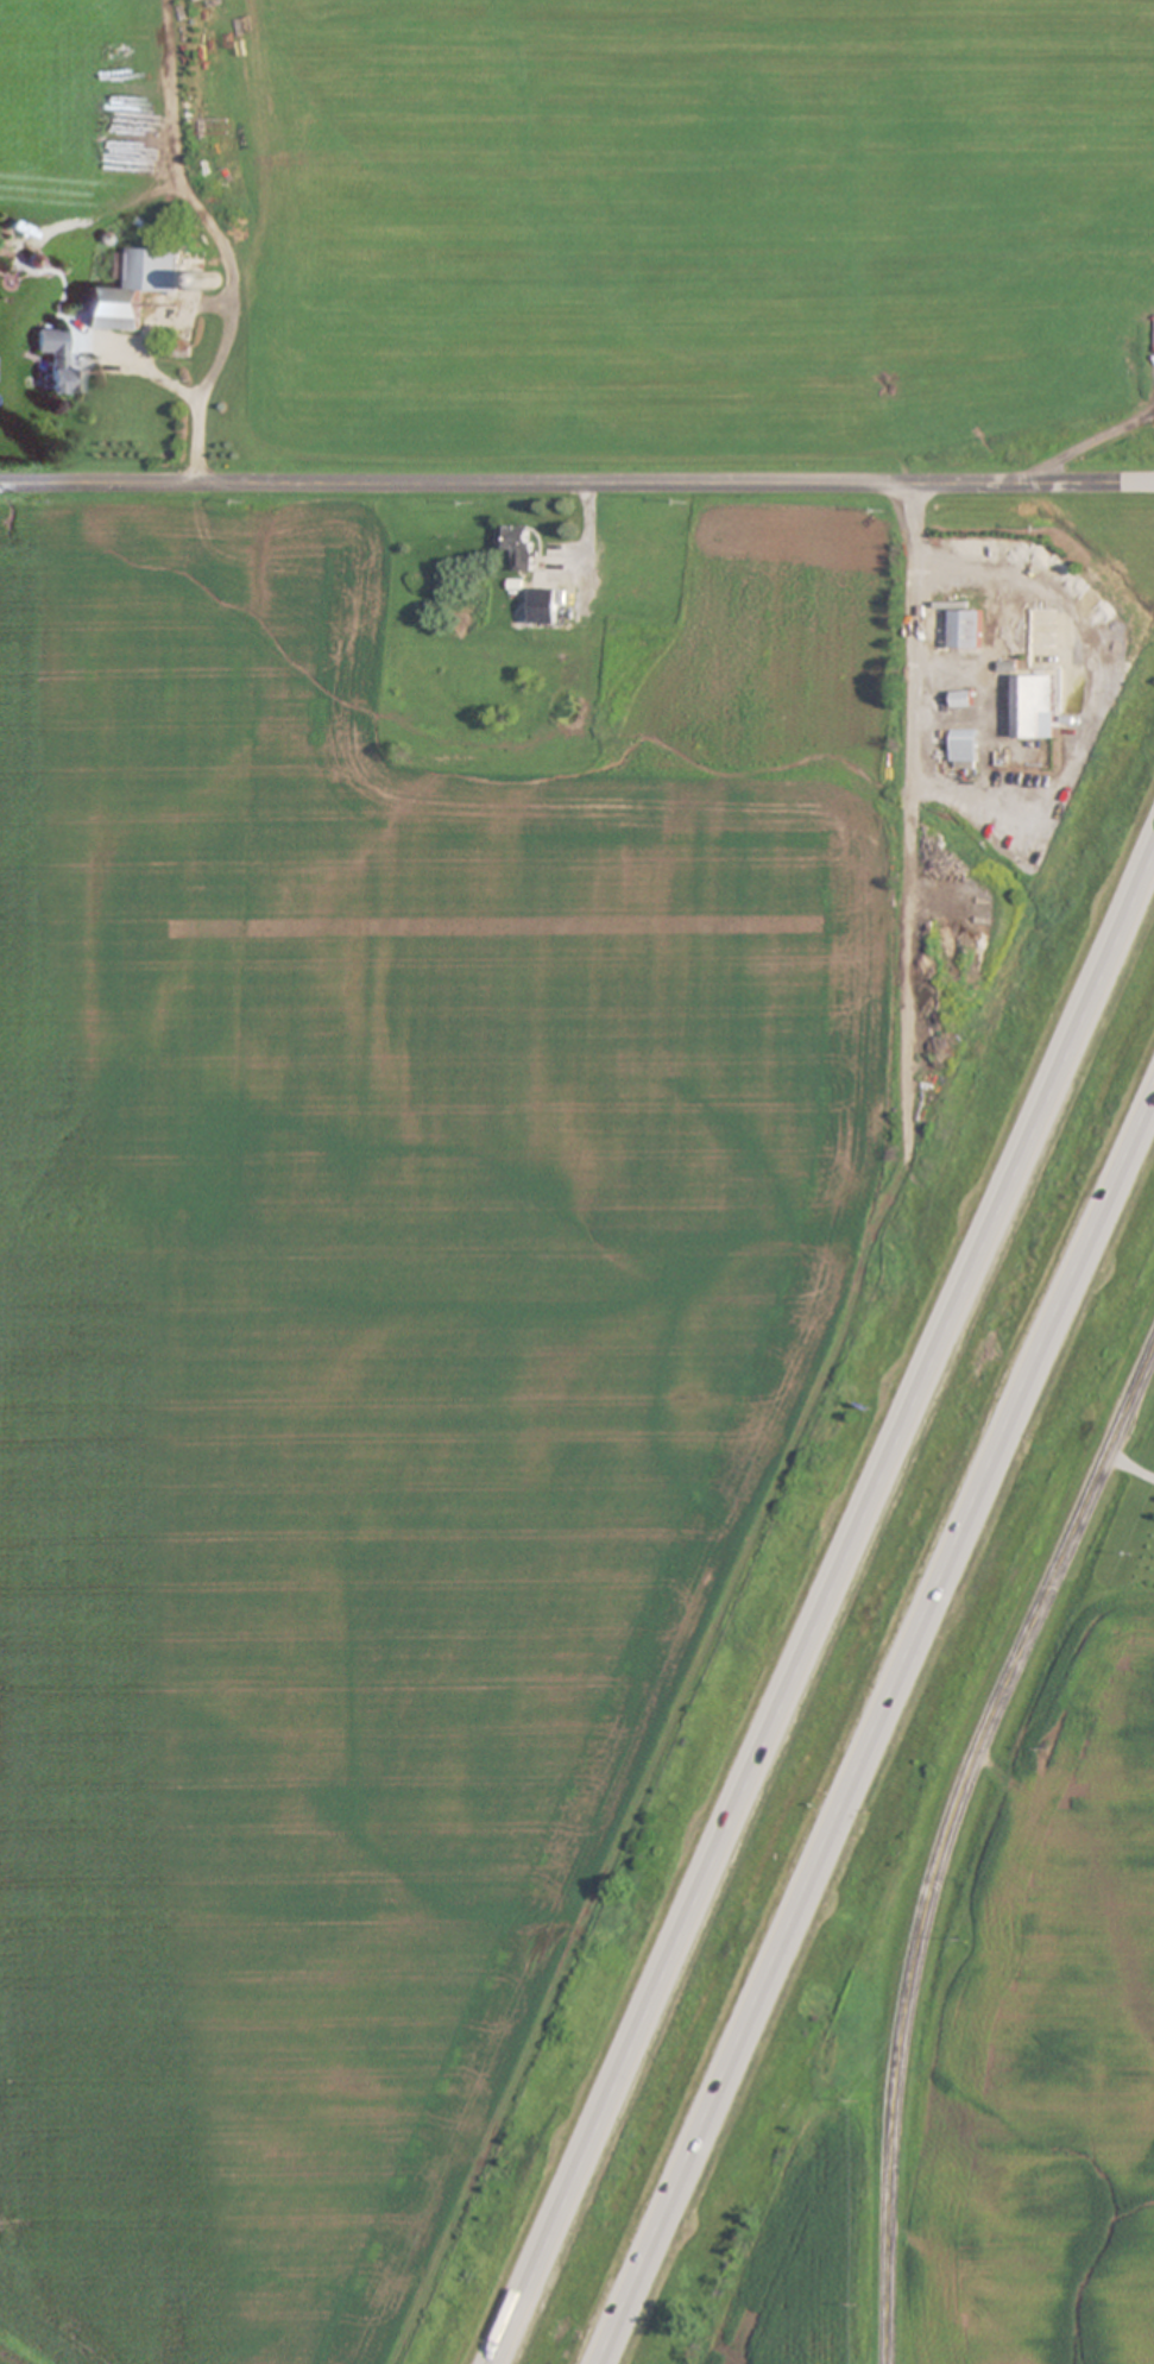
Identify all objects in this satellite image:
building: (131, 290)
building: (53, 360)
road: (576, 480)
building: (521, 547)
building: (966, 630)
building: (963, 699)
building: (1035, 707)
building: (957, 743)
road: (914, 806)
road: (1129, 1468)
road: (825, 1607)
road: (882, 1733)
road: (946, 1837)

